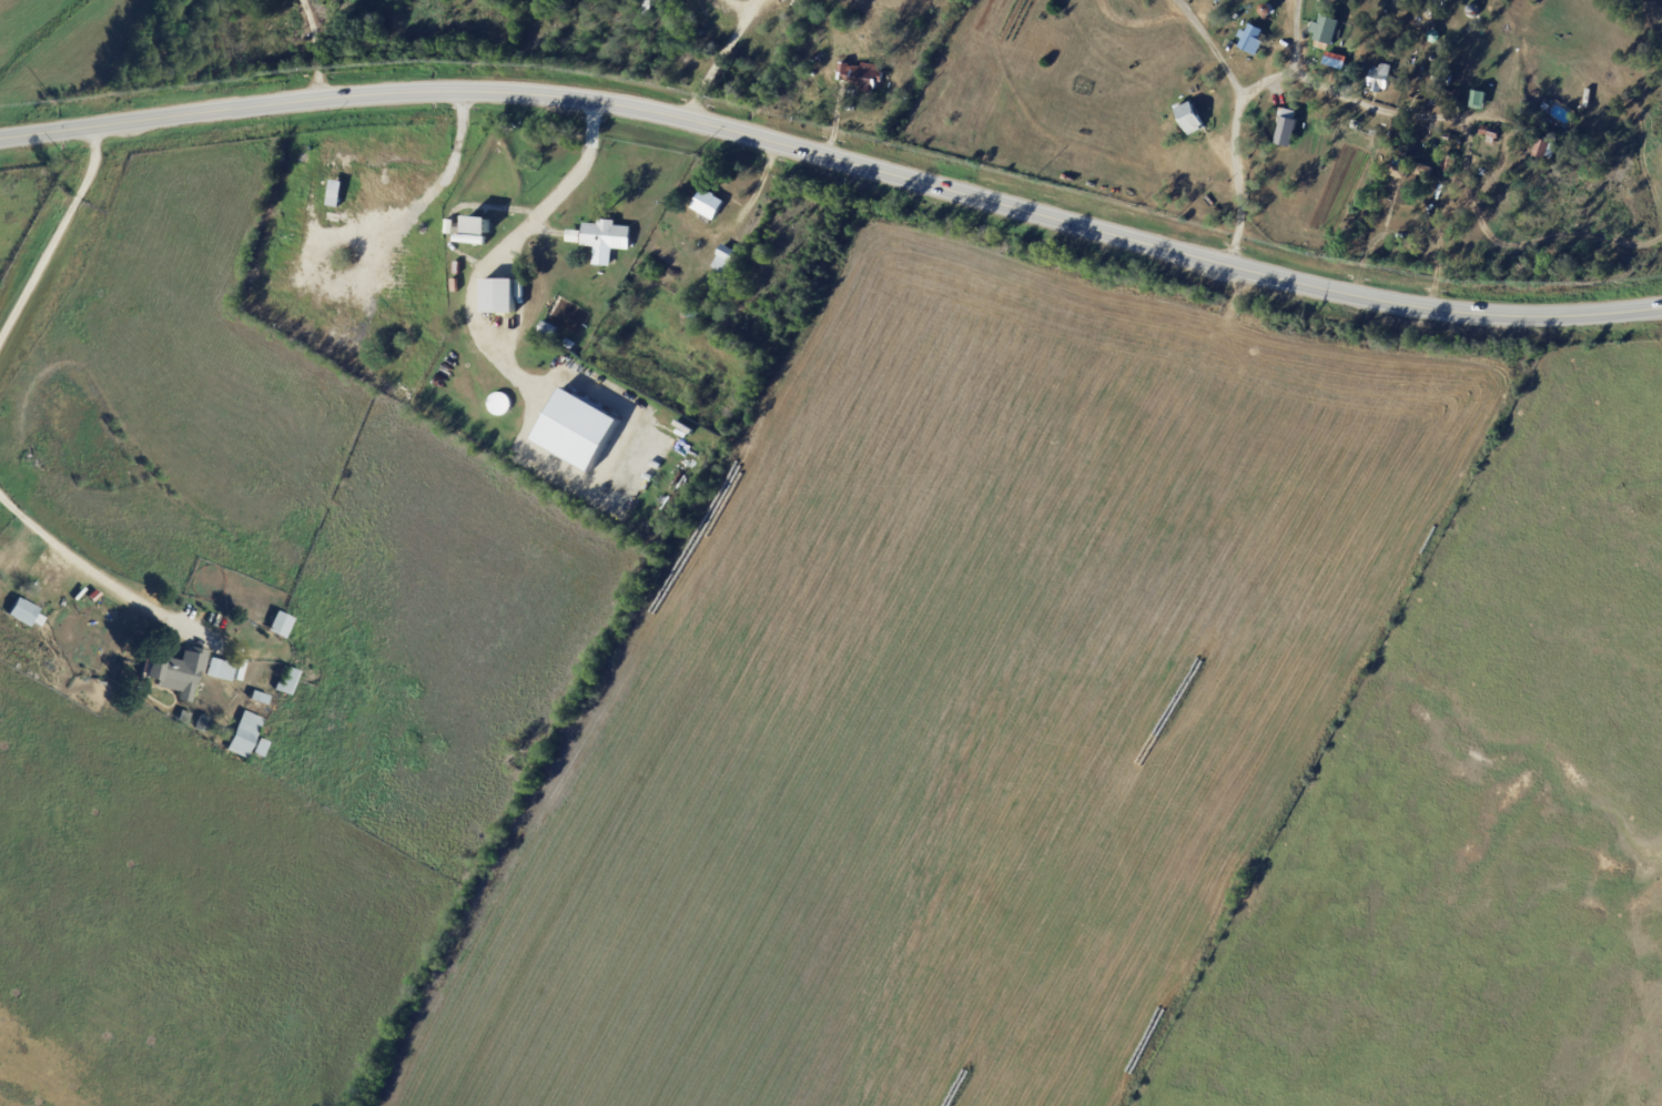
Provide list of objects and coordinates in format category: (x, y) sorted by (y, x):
building: (650, 9)
building: (1324, 28)
road: (1295, 35)
building: (1436, 37)
building: (1250, 39)
road: (1212, 47)
road: (316, 49)
road: (720, 59)
building: (1354, 72)
building: (863, 78)
road: (1265, 78)
building: (1380, 79)
building: (1445, 80)
building: (1397, 82)
building: (1446, 100)
building: (1188, 118)
building: (1286, 126)
building: (1492, 135)
building: (1449, 138)
building: (1427, 146)
building: (1394, 149)
building: (1548, 152)
road: (835, 159)
building: (1450, 165)
building: (1407, 181)
building: (1476, 182)
road: (430, 191)
building: (336, 193)
building: (709, 204)
road: (1432, 207)
building: (479, 226)
building: (572, 235)
road: (1549, 235)
road: (54, 236)
building: (472, 240)
building: (607, 240)
road: (503, 248)
building: (724, 258)
building: (715, 280)
building: (591, 294)
building: (499, 297)
park: (756, 325)
building: (498, 404)
building: (577, 428)
building: (701, 447)
road: (104, 578)
building: (23, 613)
building: (281, 626)
building: (220, 671)
building: (178, 673)
building: (287, 683)
building: (260, 699)
building: (184, 719)
building: (203, 726)
building: (244, 737)
building: (261, 750)

